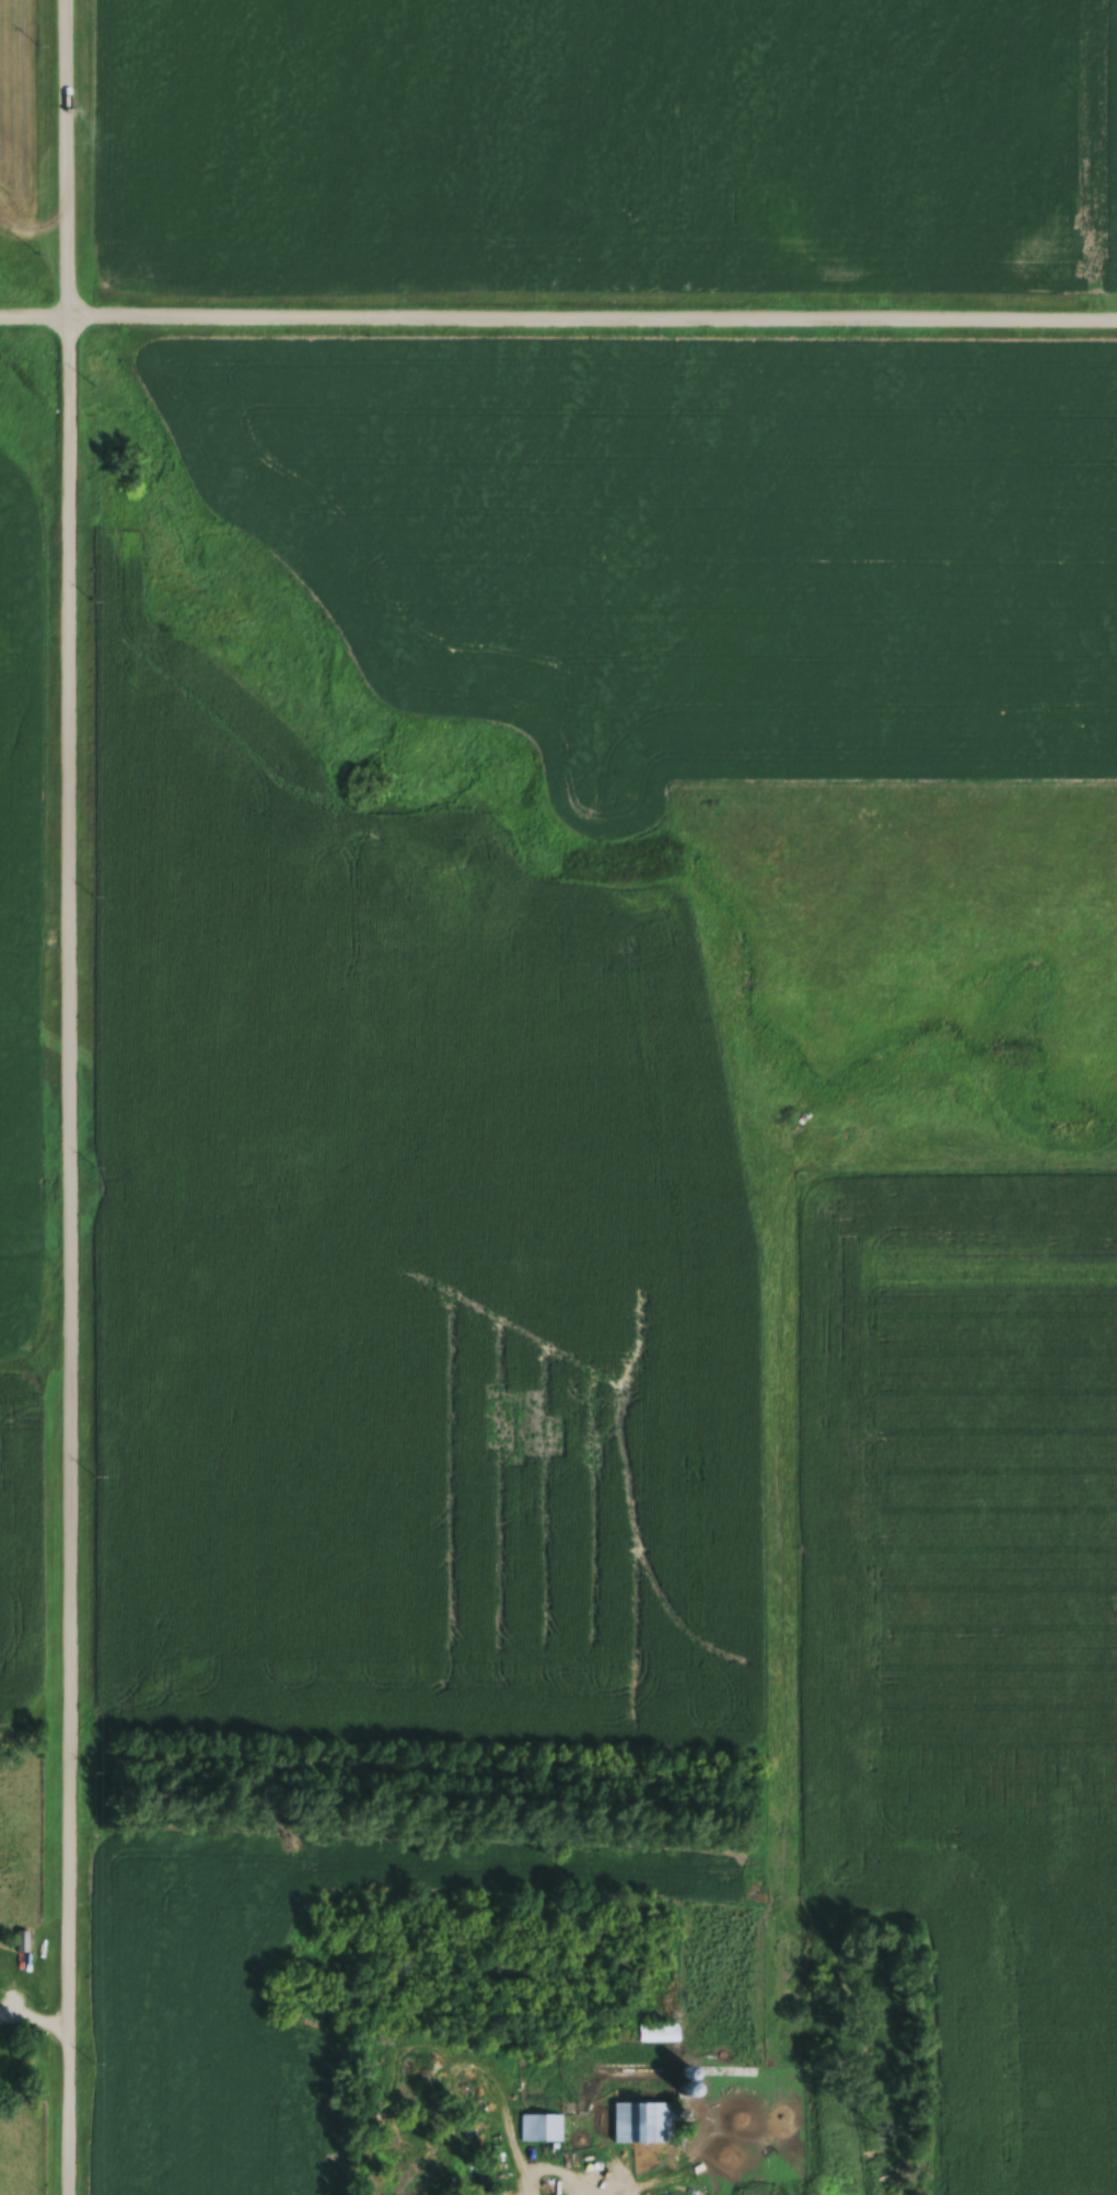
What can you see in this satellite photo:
road: (558, 313)
road: (73, 1096)
building: (21, 1943)
road: (36, 2012)
building: (659, 2035)
building: (644, 2125)
building: (540, 2129)
building: (497, 2194)

